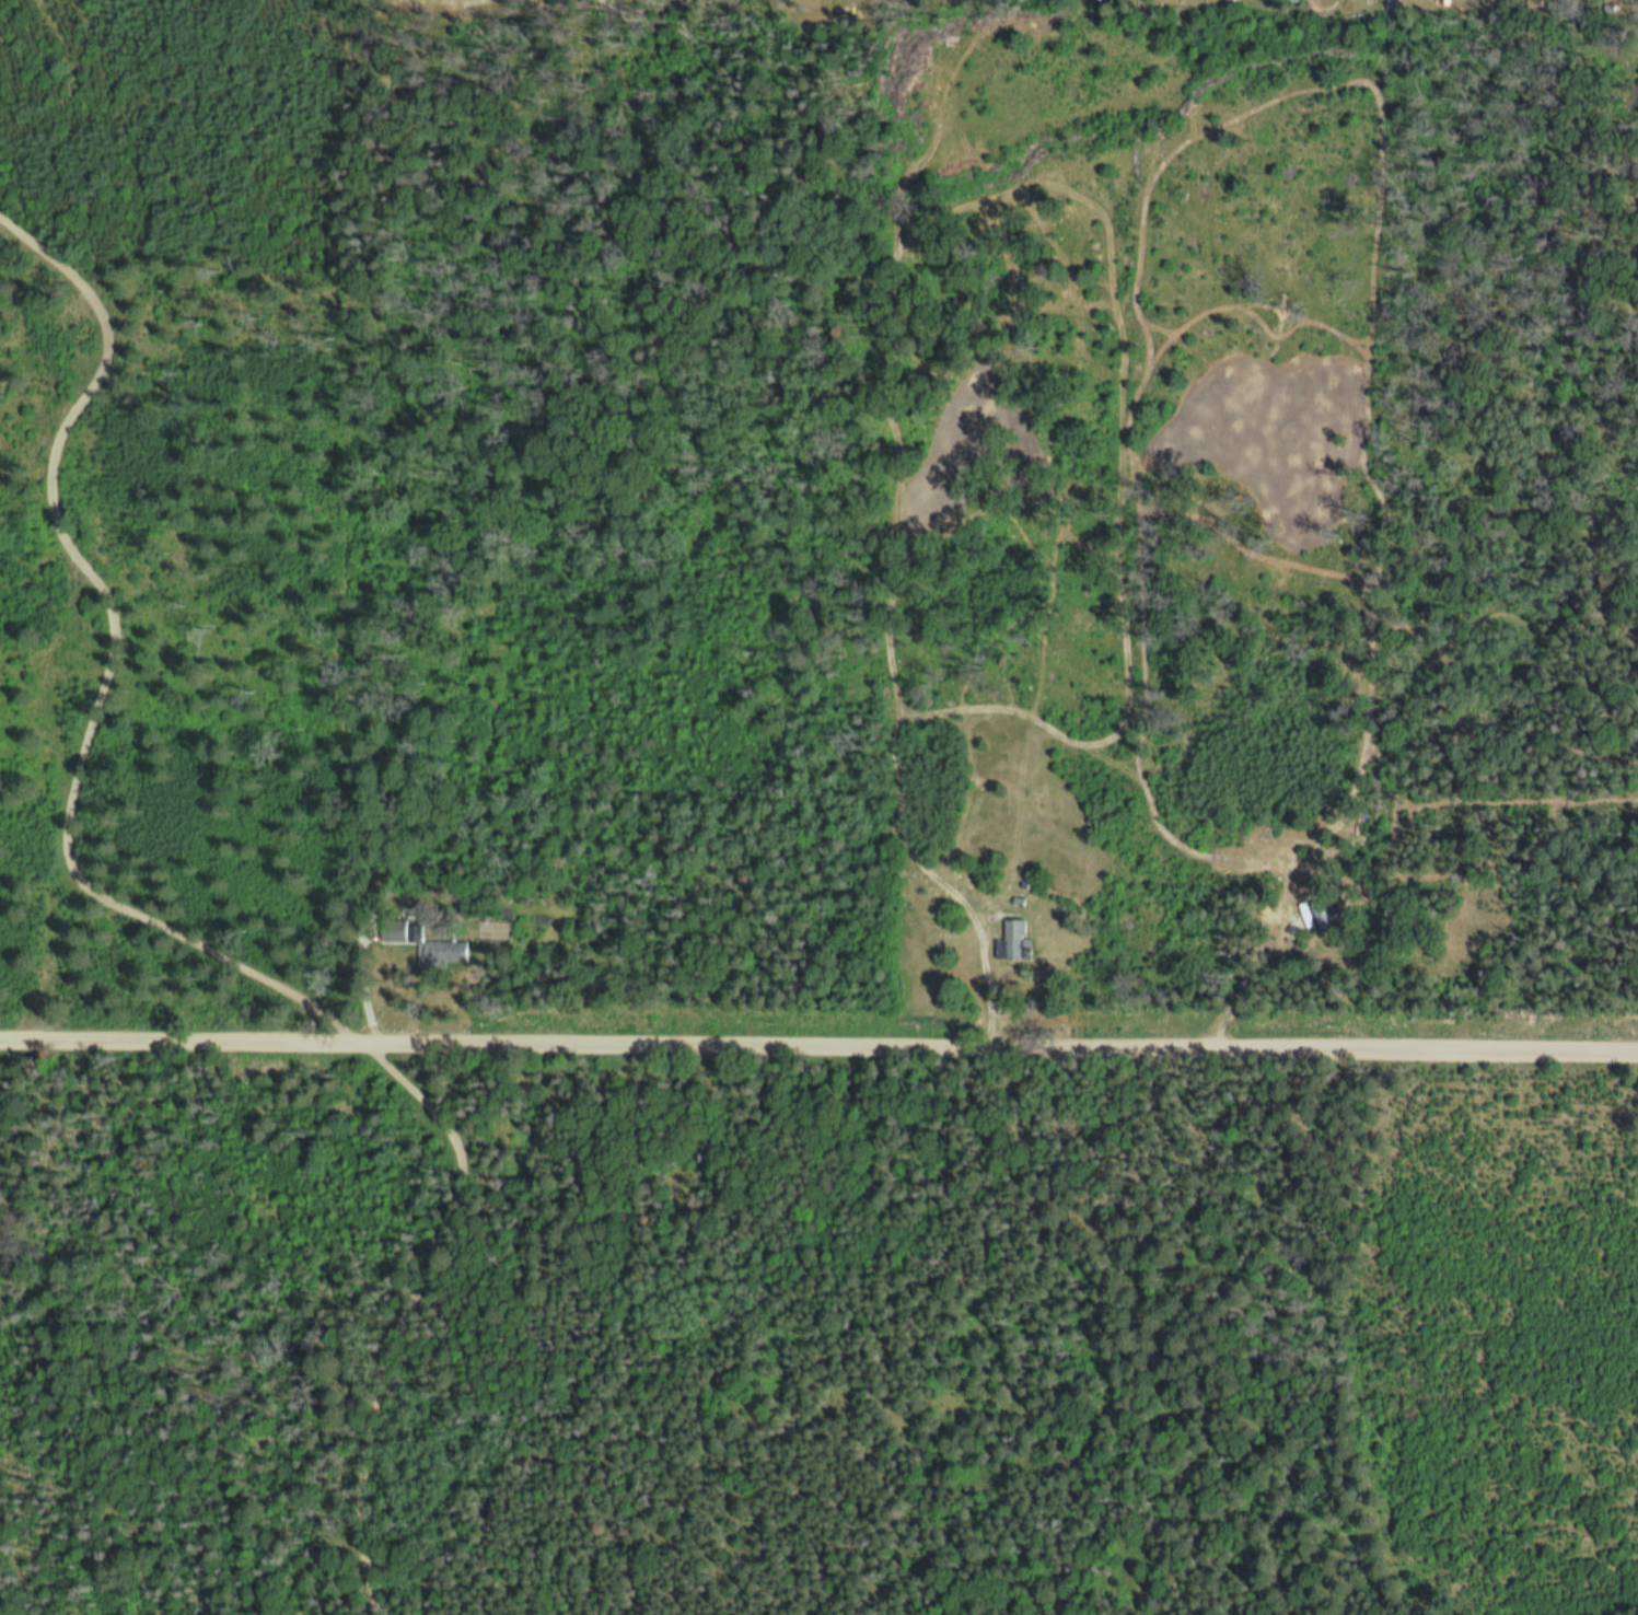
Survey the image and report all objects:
road: (93, 641)
building: (1317, 916)
building: (392, 931)
building: (1011, 940)
building: (440, 953)
road: (818, 1044)
road: (409, 1331)

